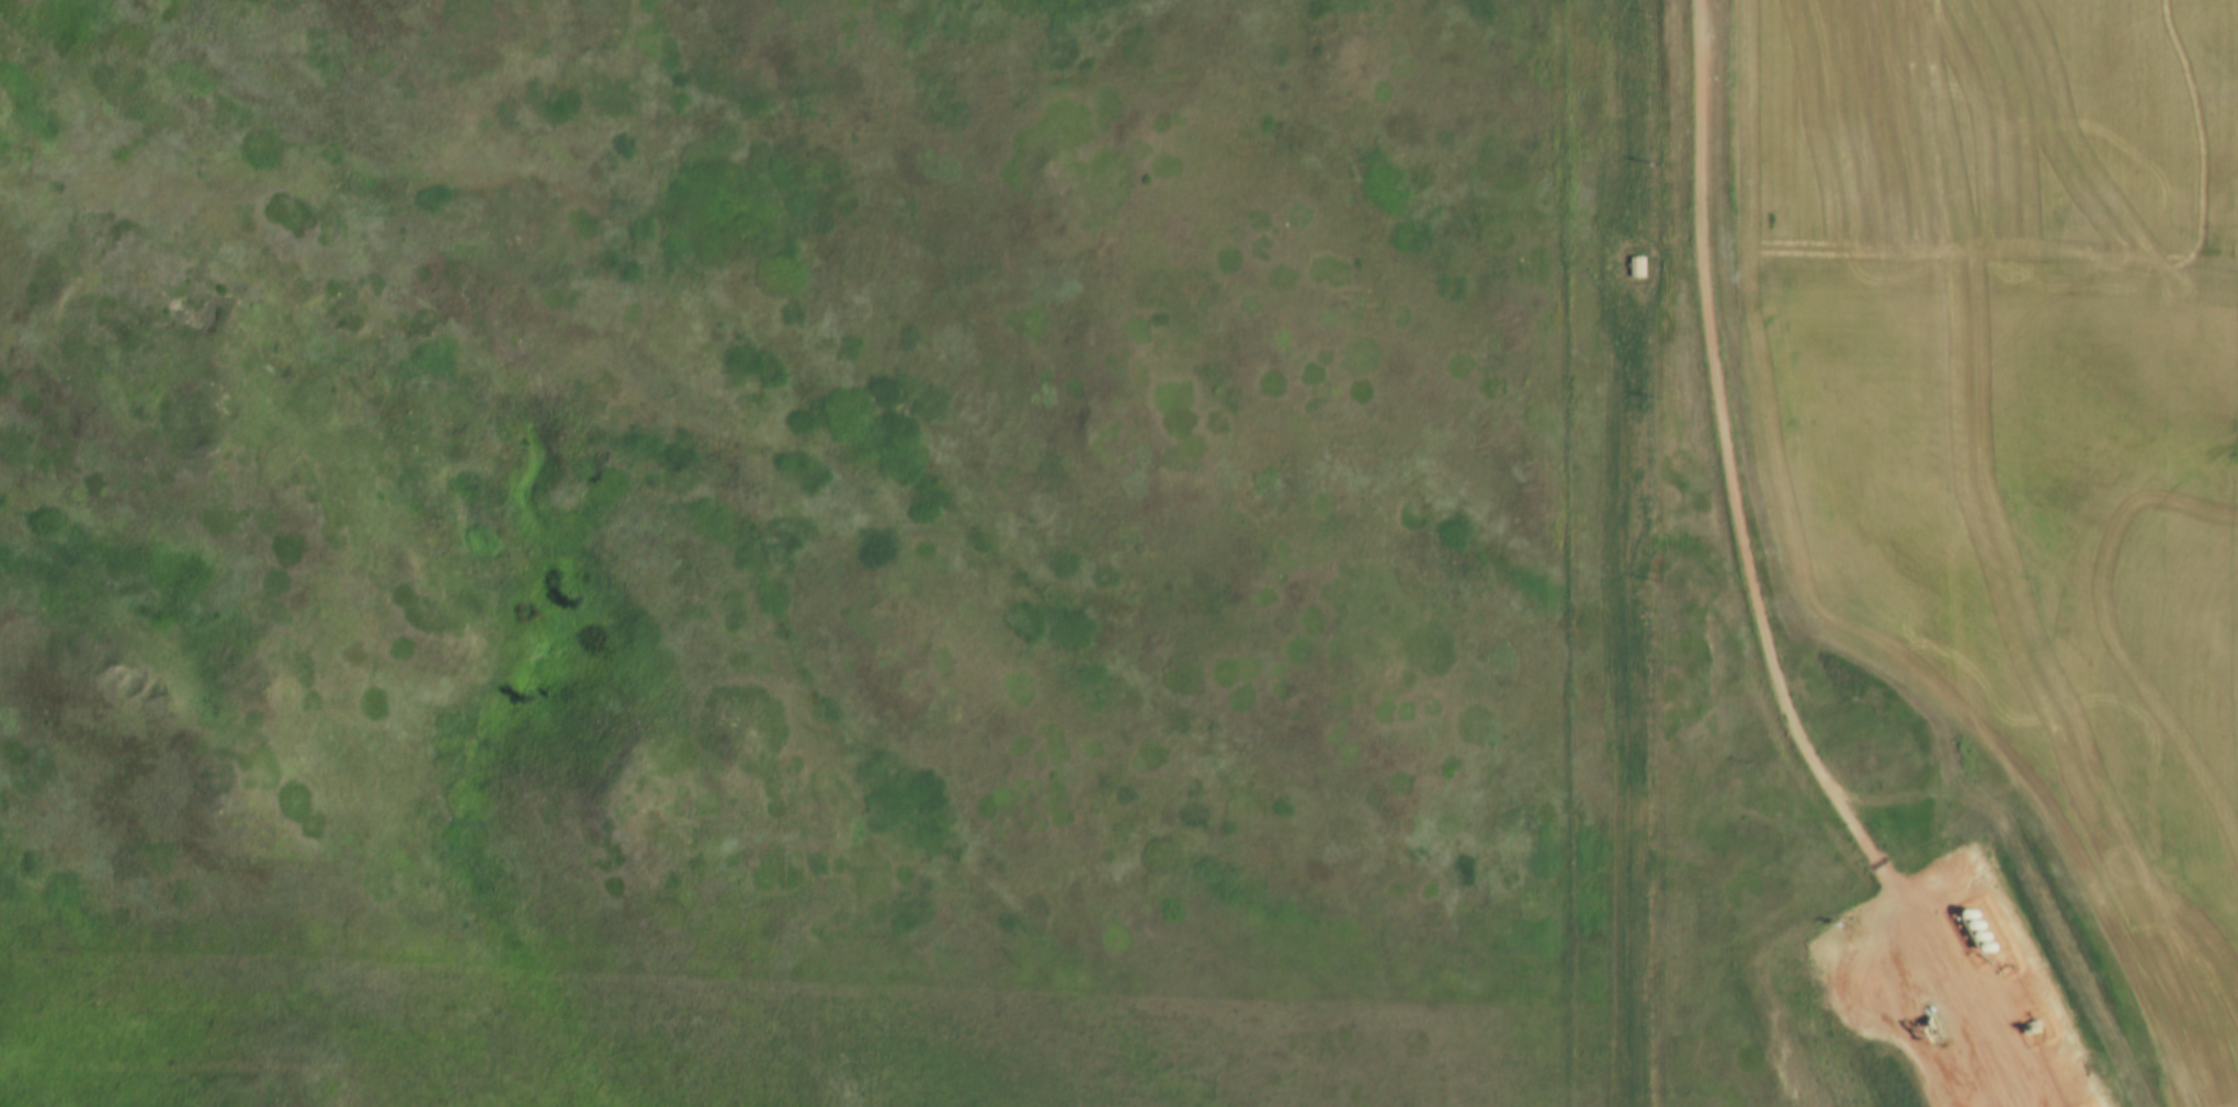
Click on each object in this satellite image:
road: (1618, 552)

